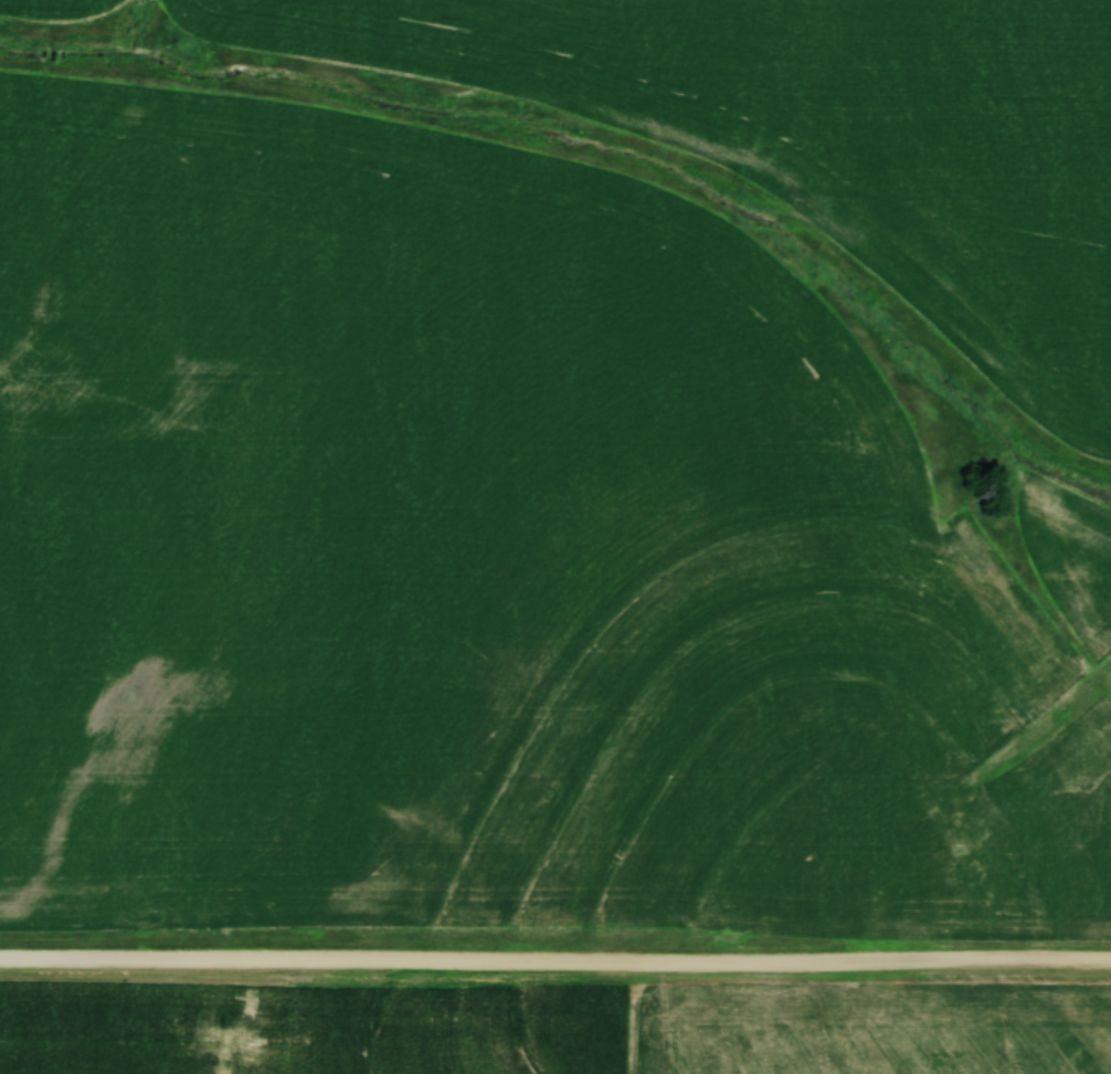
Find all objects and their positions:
road: (555, 962)

